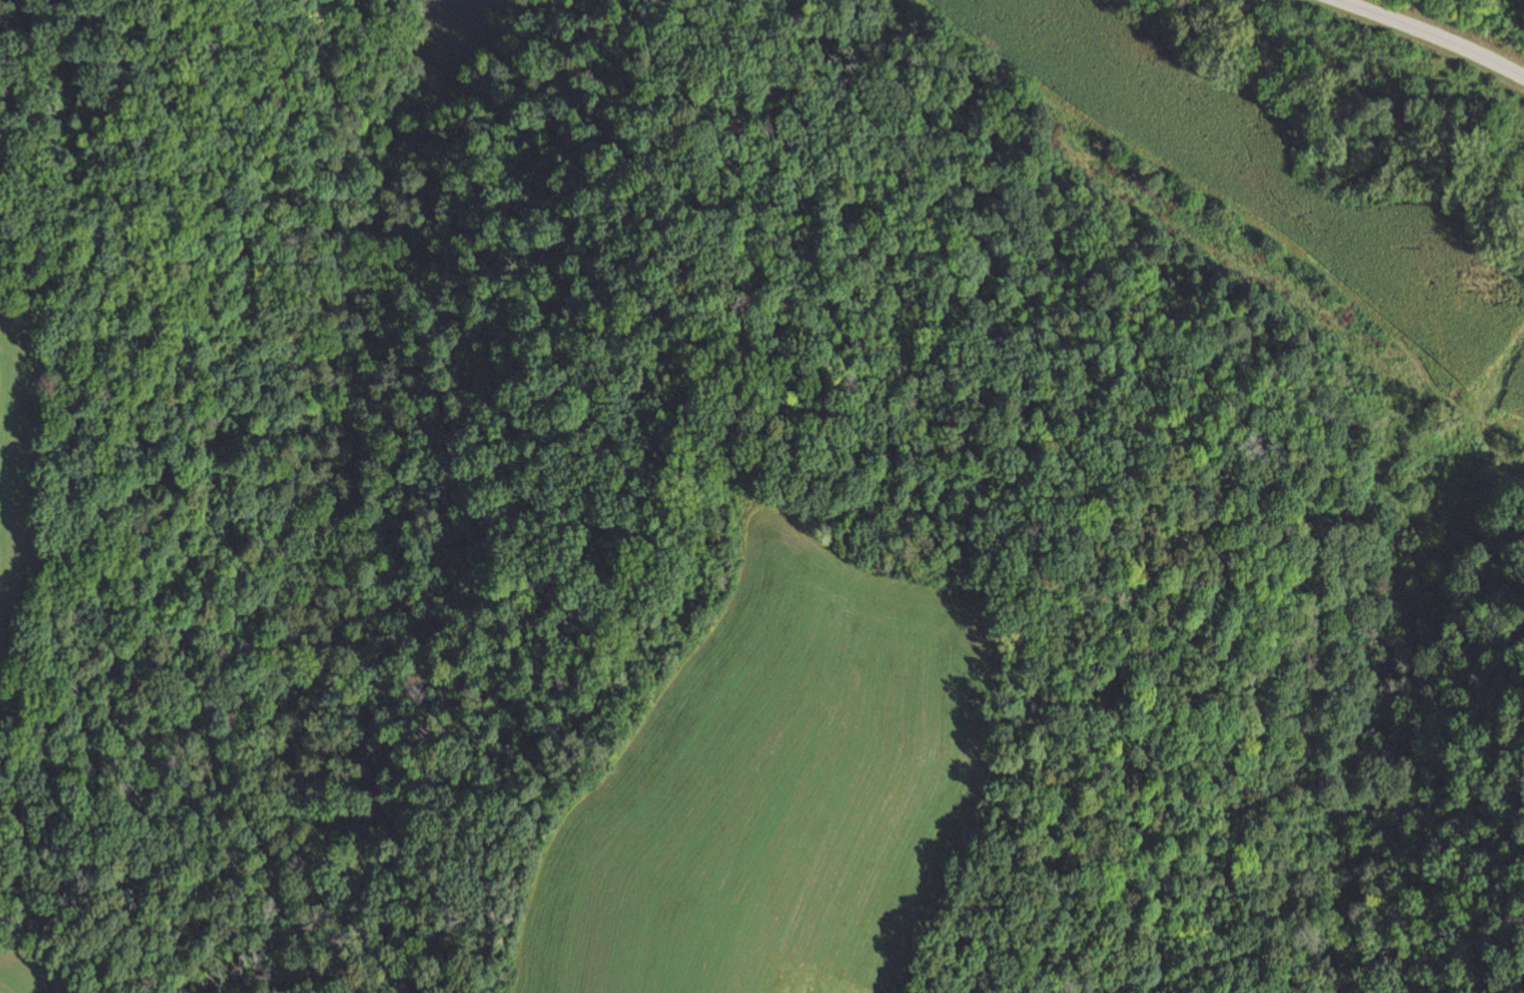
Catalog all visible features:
road: (1376, 51)

